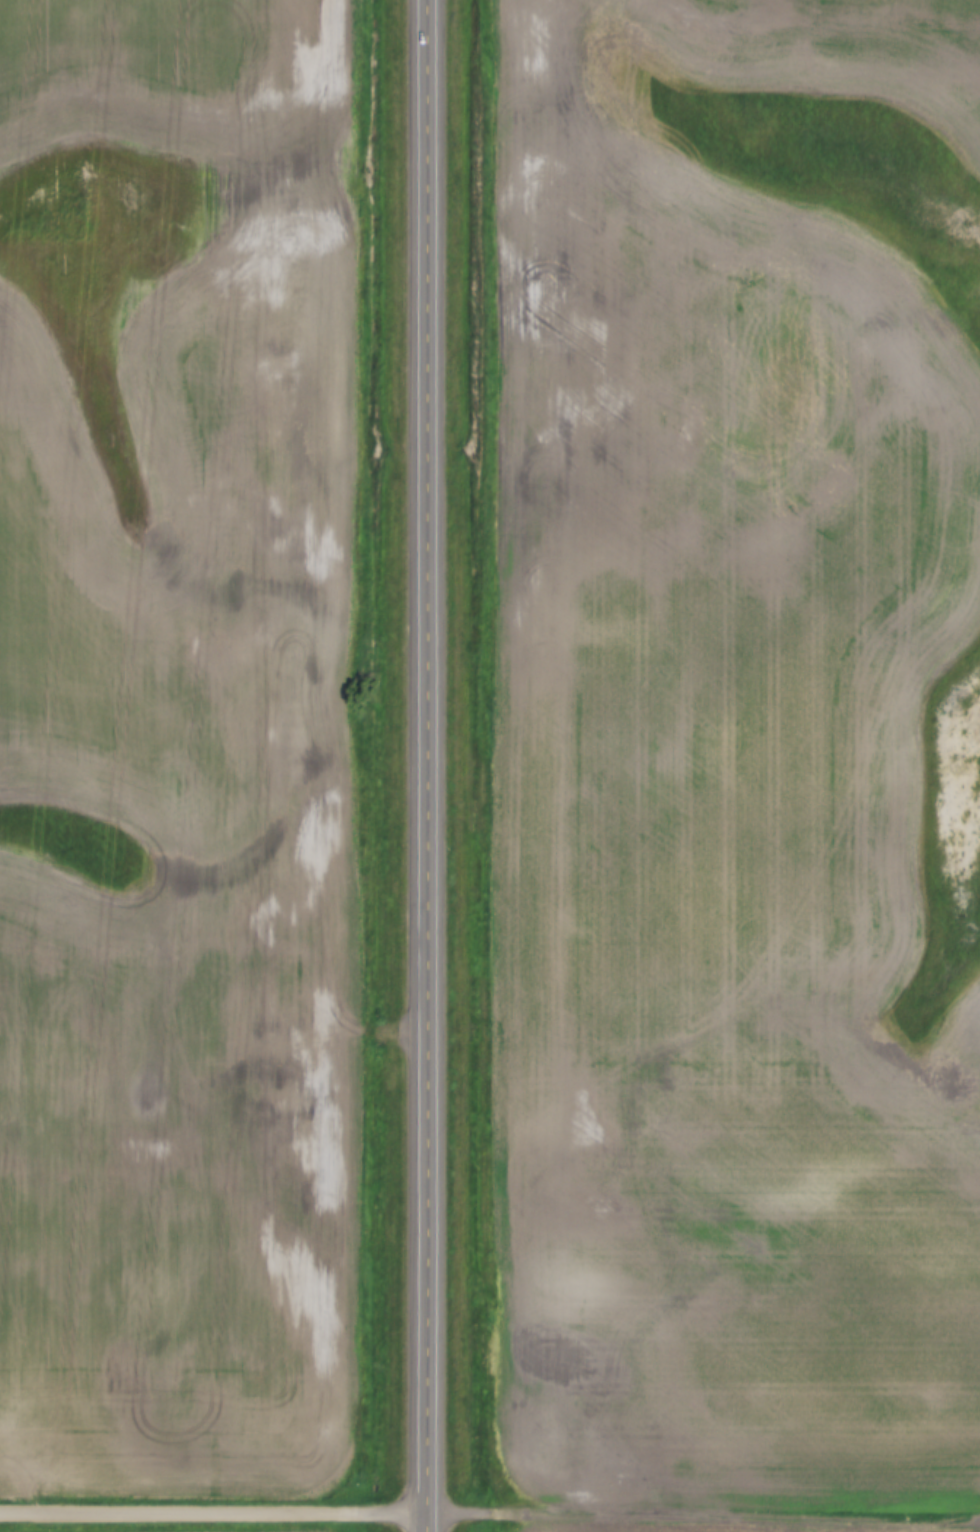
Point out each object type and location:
road: (441, 766)
road: (218, 1512)

